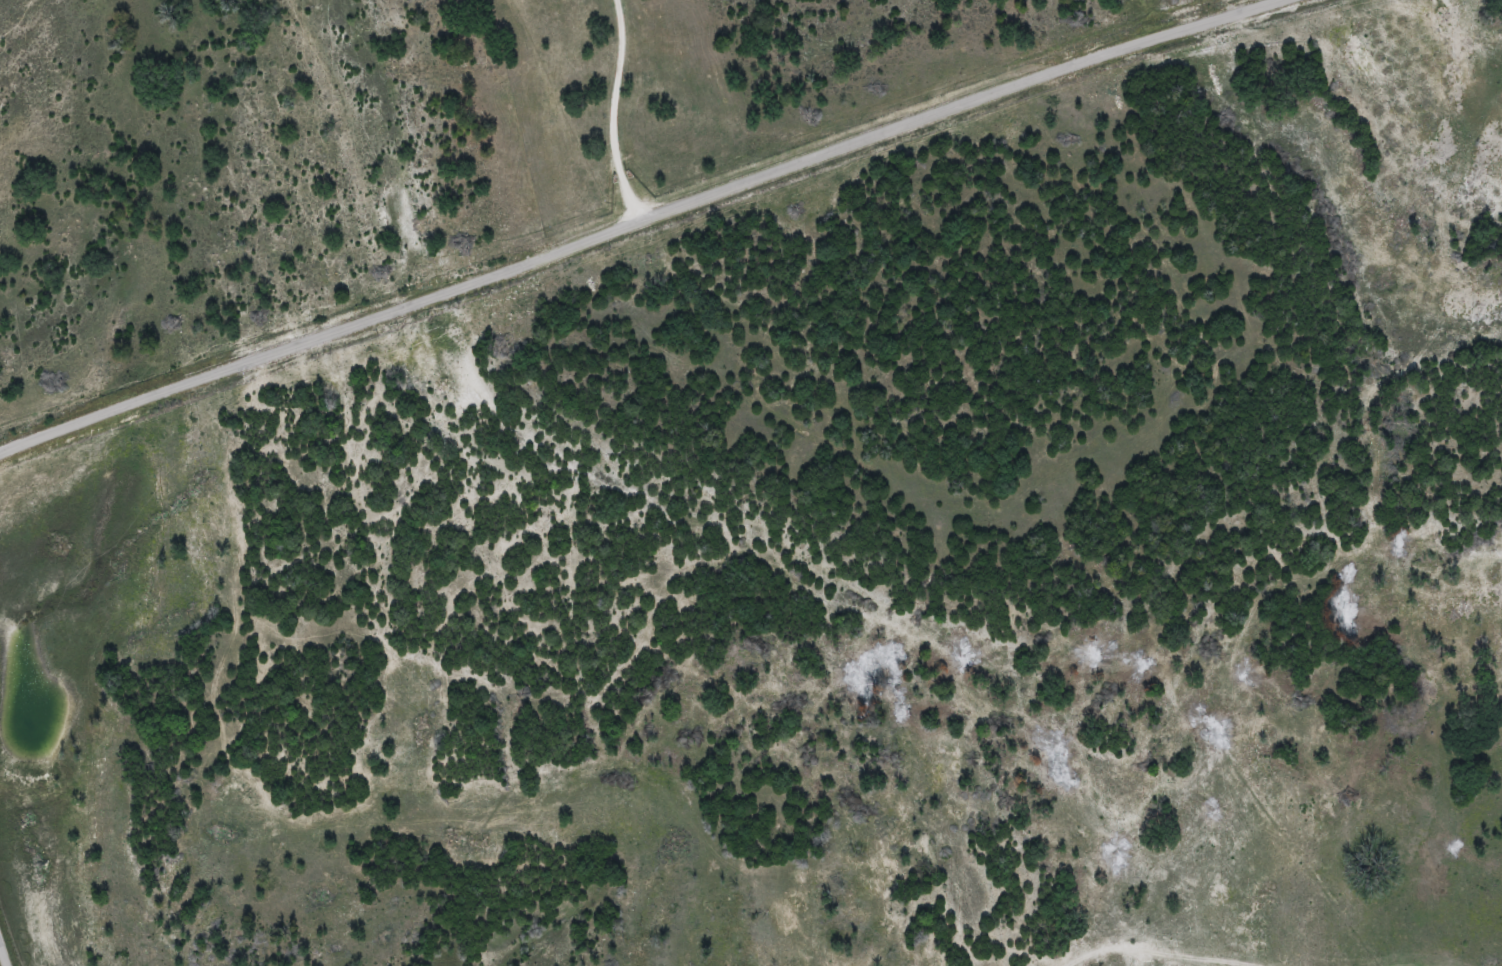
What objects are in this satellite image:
road: (642, 219)

